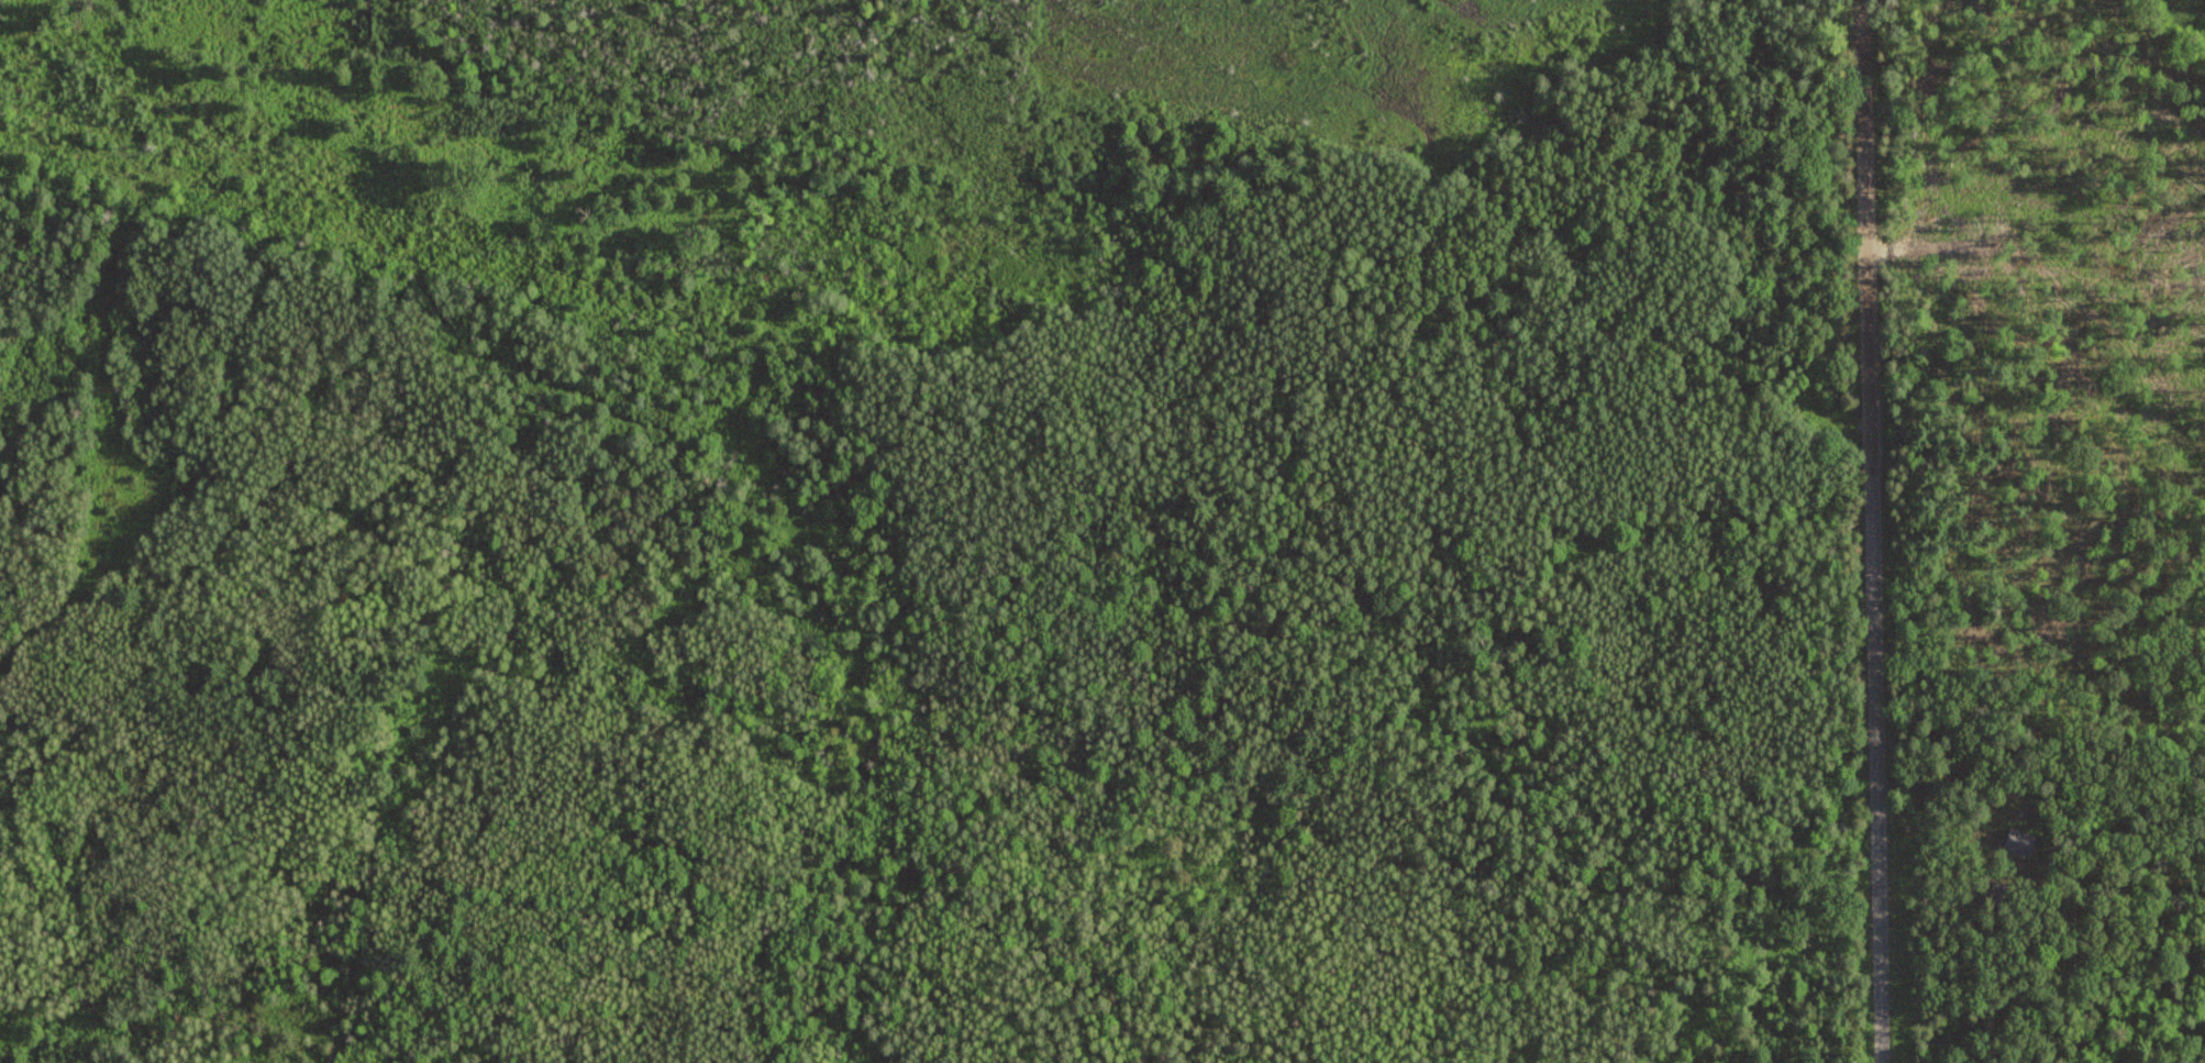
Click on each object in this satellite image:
road: (1879, 531)

